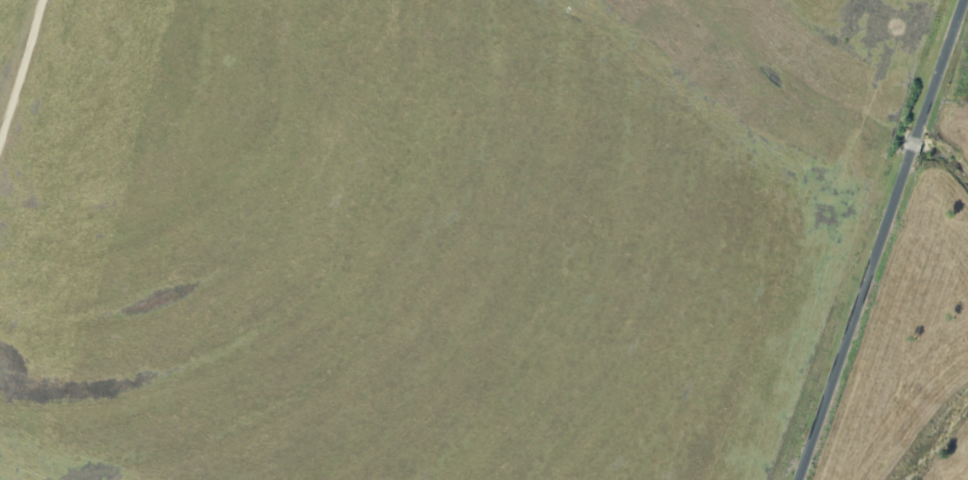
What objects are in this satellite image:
road: (23, 77)
road: (883, 240)

